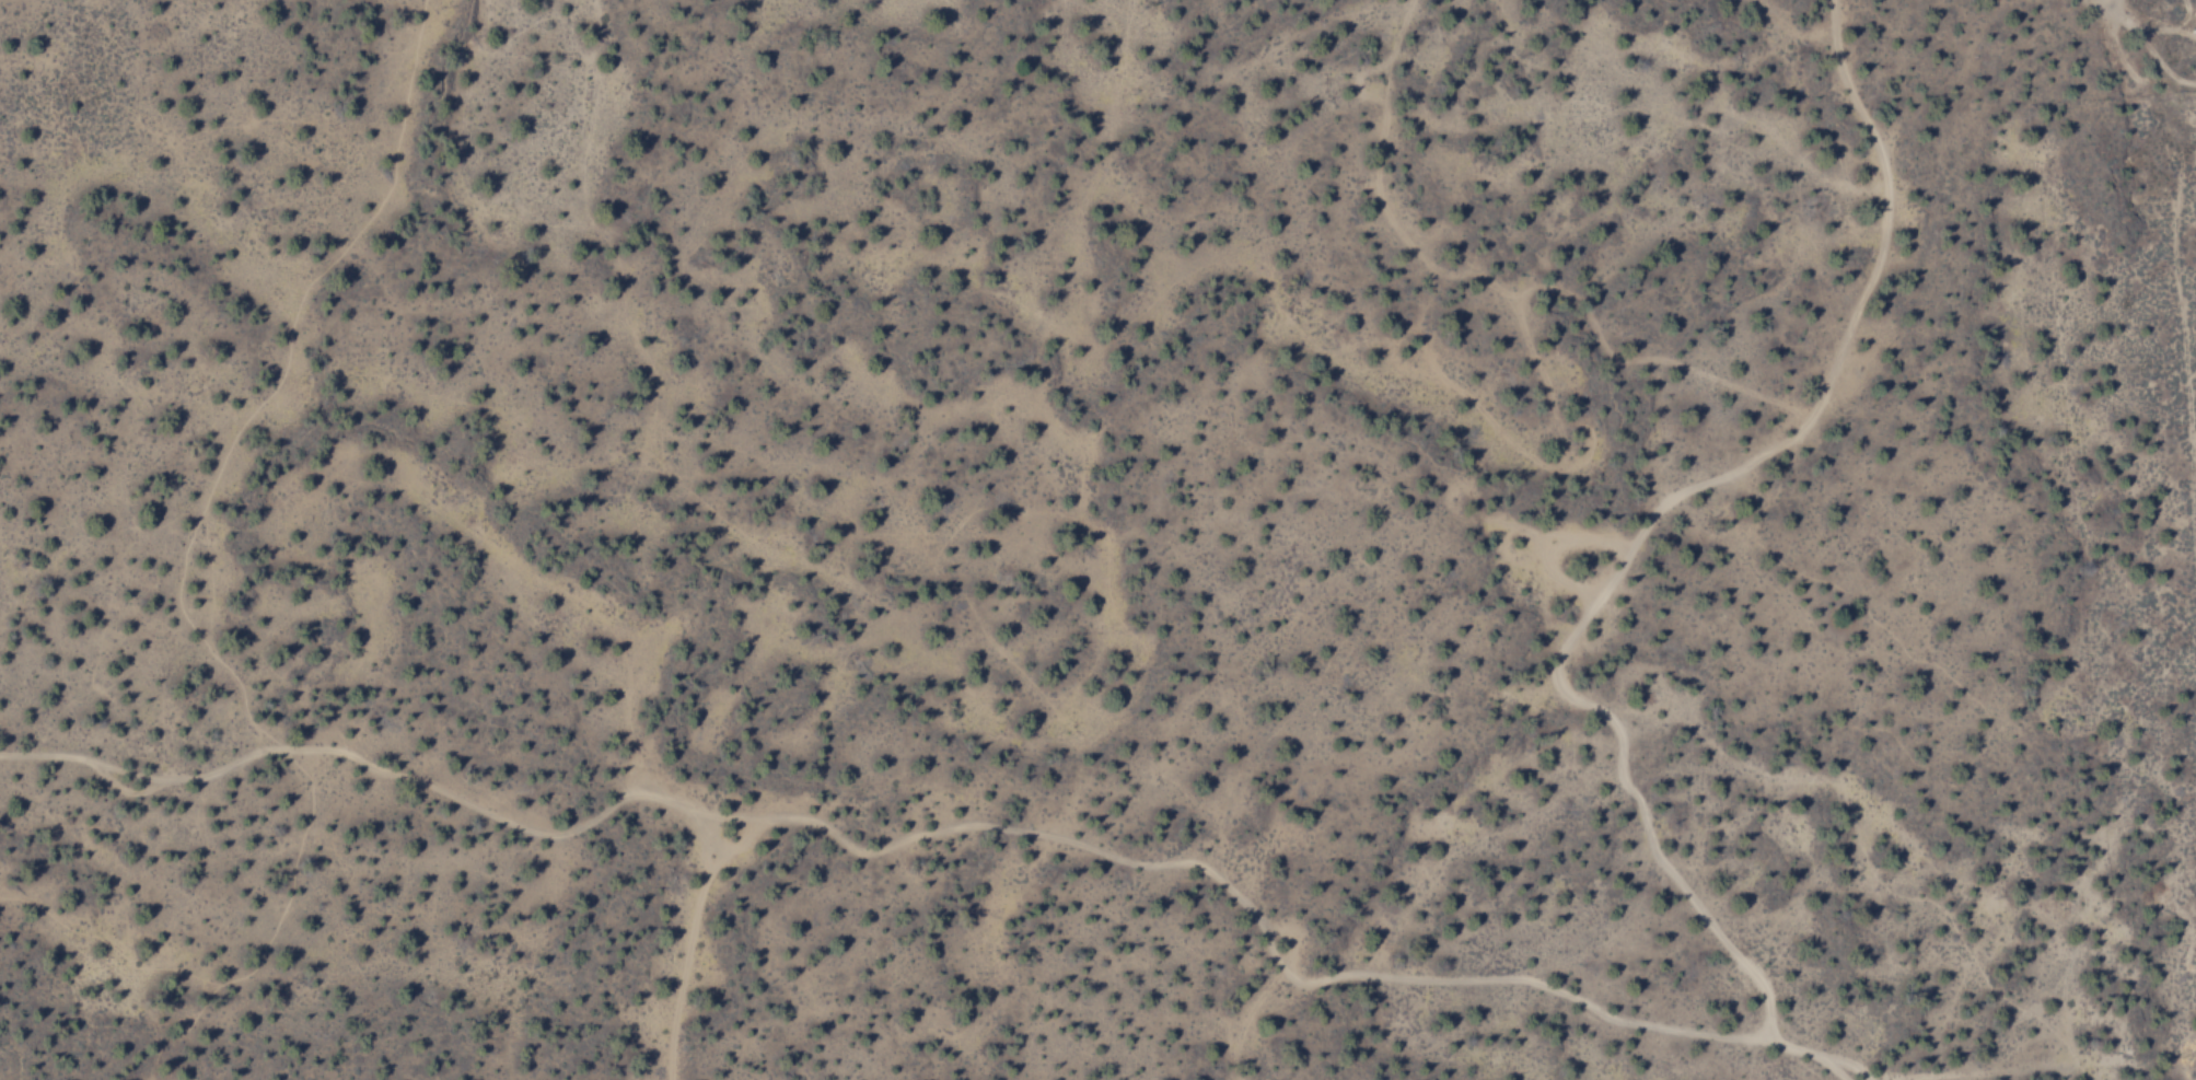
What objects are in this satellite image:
road: (1480, 280)
road: (1510, 443)
road: (1654, 516)
road: (1050, 838)
road: (689, 934)
road: (1866, 1076)

